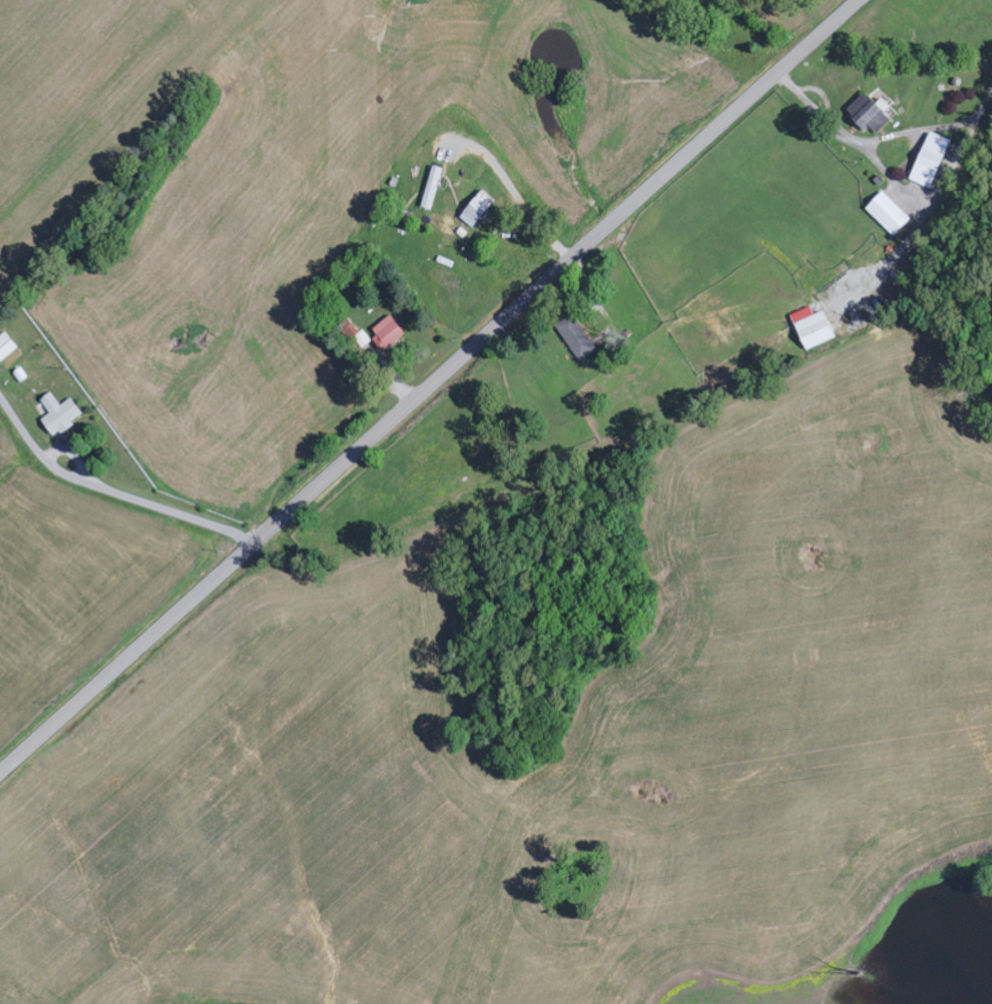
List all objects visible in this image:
building: (876, 117)
building: (932, 161)
building: (434, 188)
building: (480, 209)
building: (890, 214)
building: (815, 328)
building: (392, 332)
building: (359, 338)
building: (579, 338)
building: (7, 347)
road: (429, 387)
building: (62, 415)
road: (112, 491)

